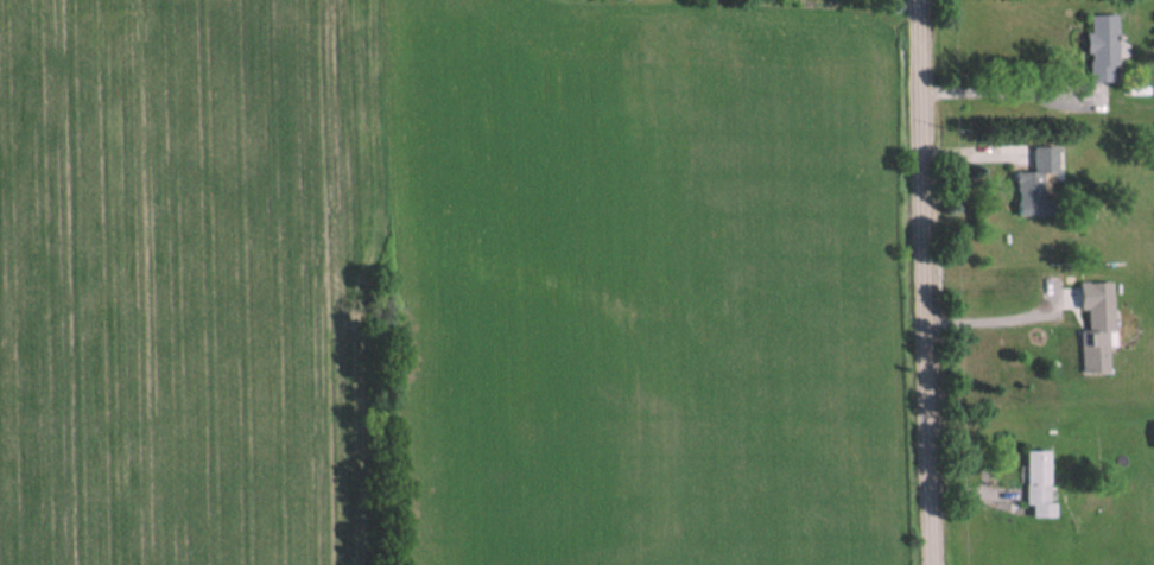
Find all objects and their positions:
building: (1099, 46)
road: (1013, 82)
building: (1153, 159)
building: (1033, 182)
road: (933, 282)
road: (1000, 312)
building: (1092, 326)
building: (1152, 436)
building: (1035, 484)

